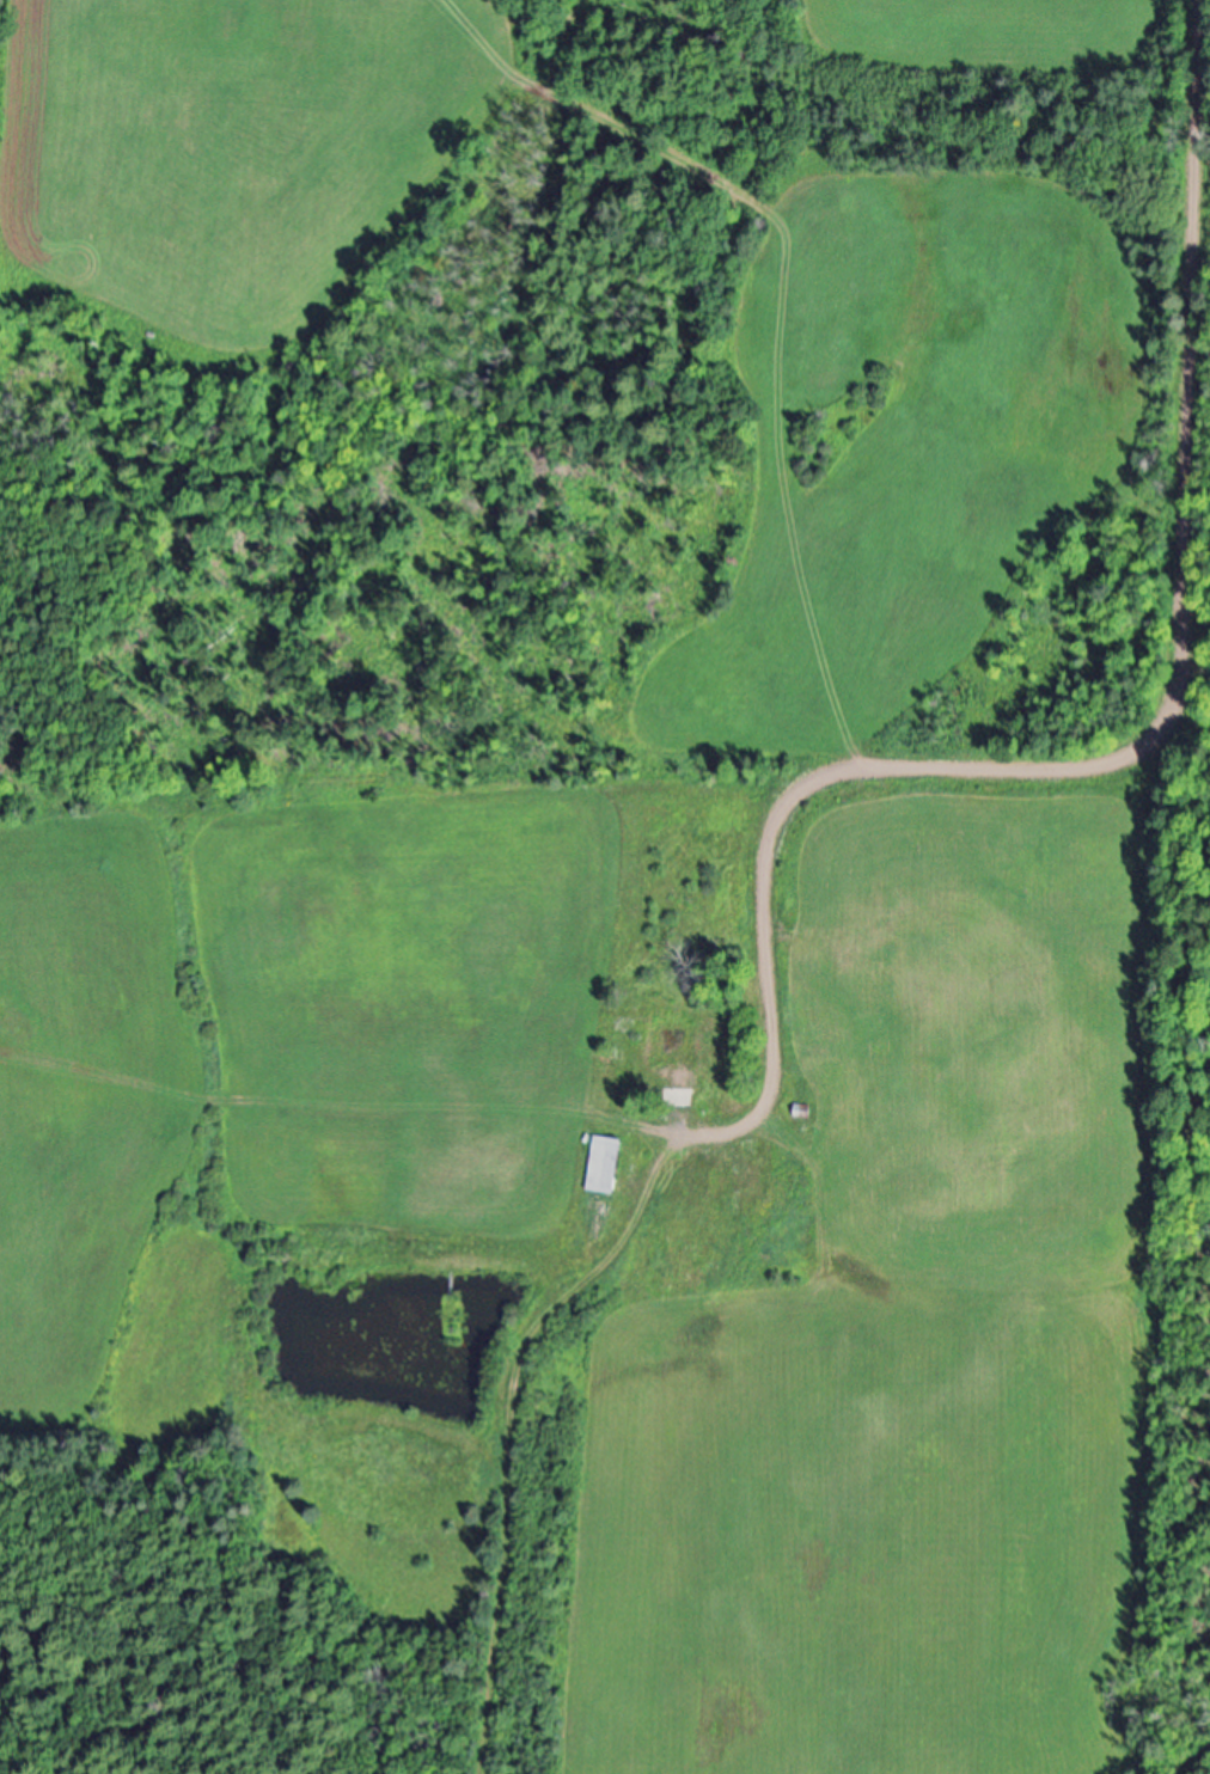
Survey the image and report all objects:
road: (1159, 726)
building: (610, 1167)
building: (696, 1186)

